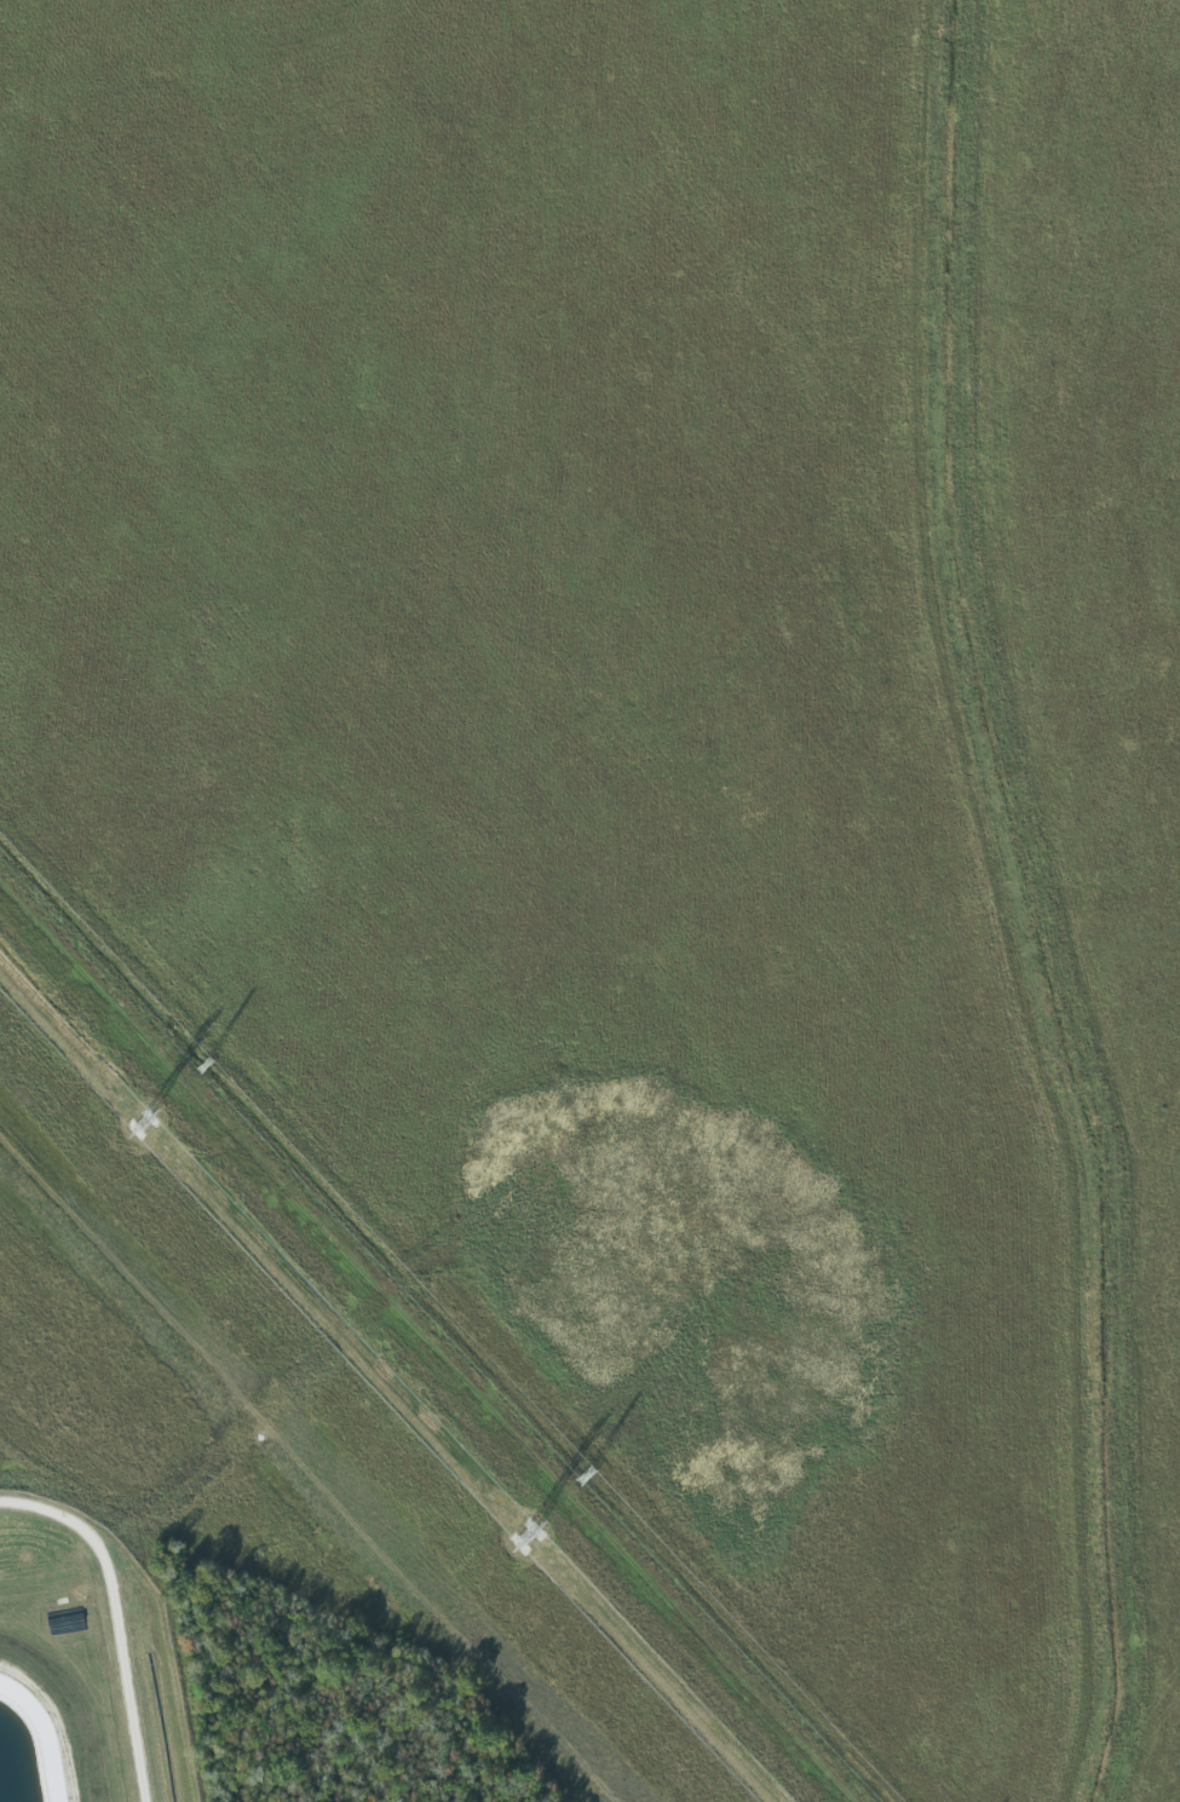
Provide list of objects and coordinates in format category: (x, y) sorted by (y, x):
power tower: (215, 1081)
power tower: (157, 1121)
power tower: (572, 1464)
power tower: (524, 1537)

